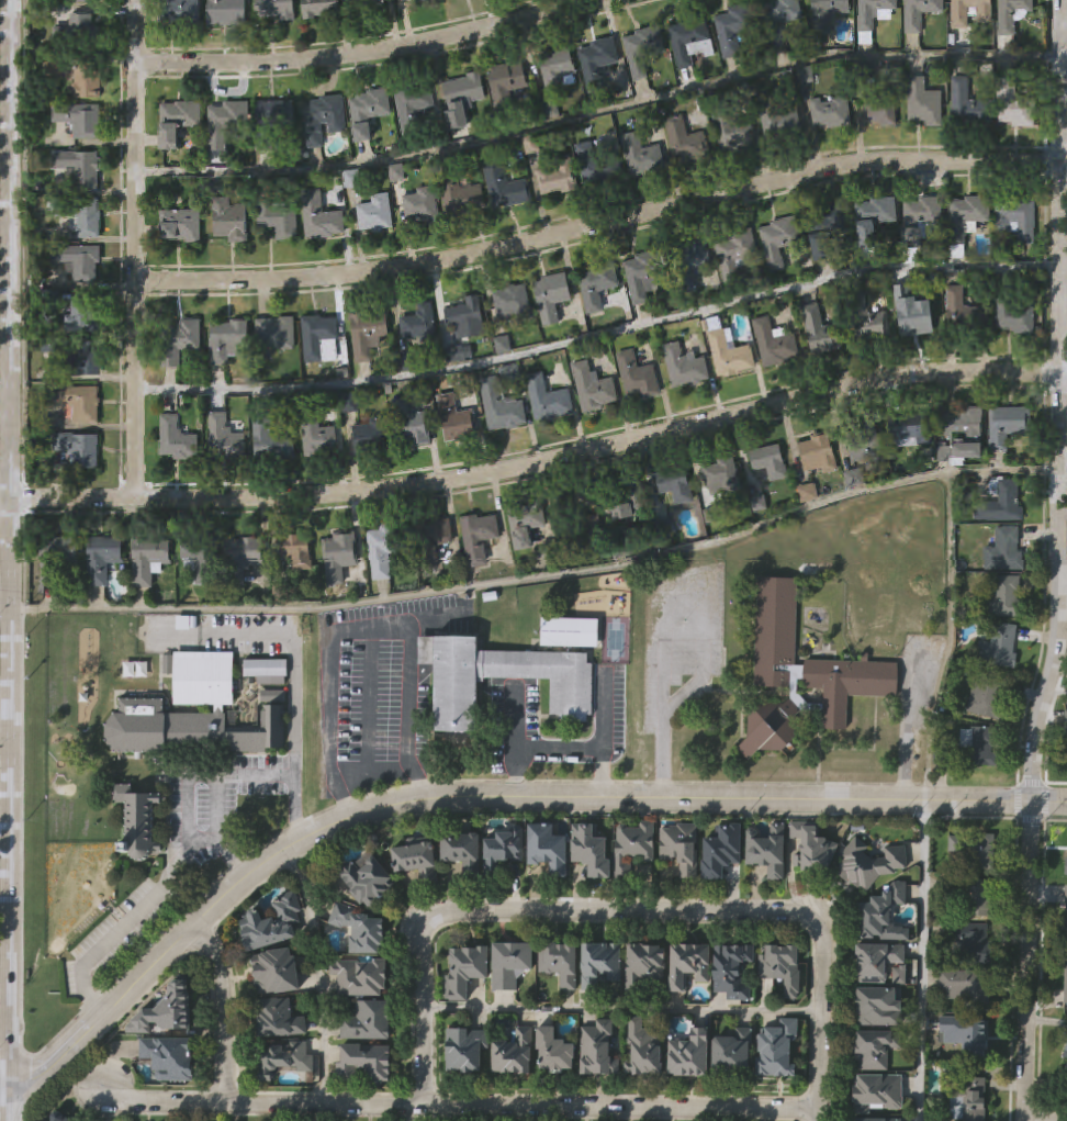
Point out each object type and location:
building: (405, 0)
building: (91, 1)
building: (423, 1)
building: (369, 4)
building: (322, 8)
building: (278, 10)
building: (183, 12)
building: (229, 12)
building: (973, 12)
building: (923, 13)
building: (831, 14)
building: (1010, 14)
building: (876, 16)
building: (780, 20)
building: (738, 27)
building: (80, 34)
building: (693, 41)
building: (647, 49)
road: (373, 52)
road: (1065, 55)
building: (597, 64)
building: (561, 67)
building: (873, 69)
building: (90, 81)
building: (469, 90)
building: (508, 90)
building: (1013, 101)
building: (412, 103)
building: (928, 103)
building: (971, 105)
building: (885, 108)
building: (372, 112)
road: (600, 112)
building: (835, 112)
building: (83, 120)
building: (325, 120)
building: (780, 120)
building: (270, 121)
building: (180, 122)
building: (229, 123)
building: (734, 128)
building: (458, 133)
building: (686, 142)
building: (644, 155)
building: (600, 165)
building: (81, 168)
building: (561, 178)
building: (508, 187)
building: (462, 195)
building: (426, 206)
building: (81, 215)
building: (373, 215)
building: (319, 217)
building: (922, 217)
building: (970, 217)
building: (877, 218)
building: (228, 220)
building: (277, 220)
building: (1020, 222)
building: (183, 225)
road: (603, 225)
building: (829, 232)
building: (784, 239)
road: (138, 249)
building: (739, 251)
building: (78, 262)
building: (692, 265)
road: (1064, 266)
building: (643, 274)
building: (600, 285)
building: (554, 298)
building: (517, 303)
building: (917, 311)
building: (968, 312)
building: (468, 313)
building: (86, 315)
building: (1013, 315)
building: (869, 321)
building: (423, 325)
building: (824, 332)
building: (278, 334)
road: (599, 334)
building: (372, 337)
building: (323, 339)
building: (229, 340)
building: (182, 341)
building: (777, 345)
building: (730, 349)
building: (50, 352)
building: (87, 361)
building: (687, 366)
building: (637, 377)
building: (596, 389)
building: (551, 400)
building: (81, 403)
building: (38, 406)
building: (504, 406)
building: (459, 419)
building: (414, 424)
building: (1008, 426)
building: (916, 430)
building: (372, 435)
building: (961, 435)
building: (321, 437)
building: (227, 439)
building: (179, 440)
building: (274, 442)
building: (869, 444)
building: (80, 450)
road: (541, 453)
building: (821, 453)
building: (773, 462)
road: (1064, 478)
building: (678, 485)
building: (722, 486)
road: (4, 501)
building: (630, 503)
building: (1003, 505)
building: (528, 526)
building: (577, 528)
building: (482, 537)
building: (436, 540)
building: (385, 548)
building: (293, 551)
building: (1006, 551)
building: (341, 556)
building: (54, 558)
building: (100, 558)
building: (244, 558)
building: (202, 559)
road: (8, 560)
building: (150, 560)
road: (1062, 562)
road: (539, 573)
road: (1064, 585)
building: (1004, 597)
building: (148, 601)
building: (293, 602)
building: (474, 605)
building: (100, 606)
building: (240, 607)
building: (438, 608)
building: (337, 609)
building: (378, 609)
building: (194, 612)
road: (663, 623)
road: (364, 626)
building: (566, 631)
building: (998, 646)
building: (268, 666)
building: (798, 673)
road: (1057, 686)
building: (452, 695)
building: (986, 695)
road: (294, 696)
road: (368, 696)
road: (3, 714)
building: (193, 714)
building: (263, 717)
road: (517, 718)
road: (907, 722)
building: (1064, 729)
building: (845, 730)
road: (603, 736)
building: (452, 742)
road: (535, 743)
building: (980, 744)
road: (926, 753)
building: (190, 760)
road: (367, 765)
building: (766, 773)
building: (1065, 773)
building: (976, 789)
road: (188, 791)
road: (486, 796)
building: (142, 819)
building: (810, 843)
building: (633, 844)
building: (544, 845)
building: (498, 847)
building: (589, 847)
building: (459, 848)
building: (684, 848)
building: (721, 848)
building: (974, 848)
building: (766, 849)
building: (412, 854)
building: (867, 861)
building: (136, 866)
building: (364, 877)
building: (631, 892)
building: (810, 892)
building: (501, 893)
building: (677, 893)
building: (544, 894)
building: (975, 894)
building: (587, 895)
building: (460, 896)
building: (719, 896)
building: (765, 896)
building: (412, 901)
building: (1065, 904)
building: (883, 912)
road: (539, 913)
building: (277, 922)
road: (119, 926)
building: (358, 928)
building: (973, 941)
building: (1065, 948)
building: (874, 959)
road: (921, 960)
building: (564, 962)
building: (687, 962)
building: (643, 963)
building: (484, 964)
building: (603, 964)
building: (779, 964)
building: (730, 968)
building: (273, 971)
road: (321, 973)
building: (358, 974)
building: (970, 986)
building: (876, 1005)
building: (507, 1008)
building: (557, 1008)
building: (597, 1009)
building: (161, 1010)
road: (622, 1010)
building: (643, 1010)
building: (686, 1010)
road: (223, 1011)
building: (779, 1012)
building: (463, 1014)
building: (729, 1016)
building: (276, 1017)
building: (367, 1019)
building: (896, 1020)
building: (1064, 1029)
road: (822, 1031)
building: (970, 1035)
building: (873, 1045)
building: (647, 1049)
building: (469, 1050)
building: (602, 1050)
building: (784, 1051)
building: (535, 1052)
building: (740, 1053)
building: (697, 1055)
building: (171, 1057)
building: (282, 1057)
building: (1065, 1060)
building: (361, 1062)
building: (964, 1080)
road: (3, 1084)
building: (874, 1089)
building: (462, 1095)
building: (595, 1095)
building: (641, 1095)
building: (775, 1095)
building: (551, 1096)
building: (730, 1097)
building: (512, 1098)
building: (969, 1098)
building: (687, 1099)
building: (166, 1100)
building: (282, 1103)
building: (362, 1105)
road: (456, 1105)
building: (54, 1116)
building: (873, 1118)
road: (1046, 1119)

